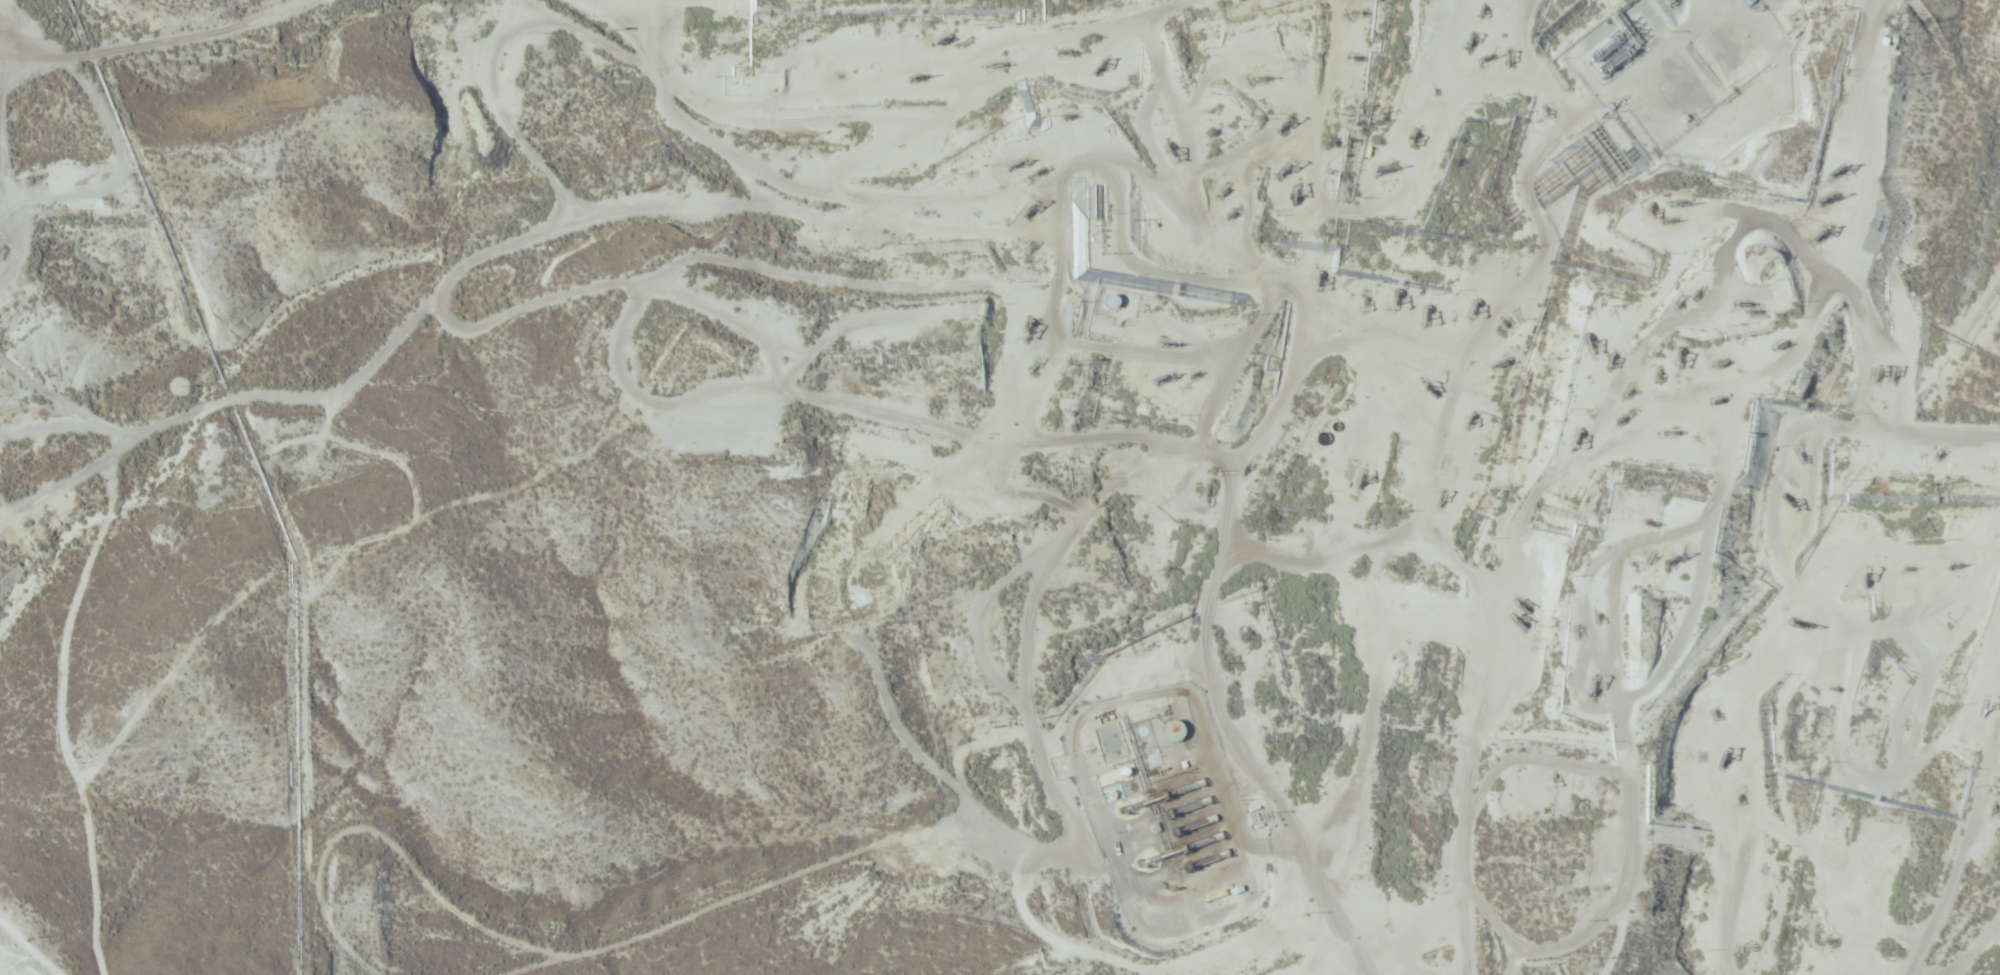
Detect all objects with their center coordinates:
building: (1716, 55)
building: (1691, 95)
building: (1174, 731)
road: (1964, 837)

